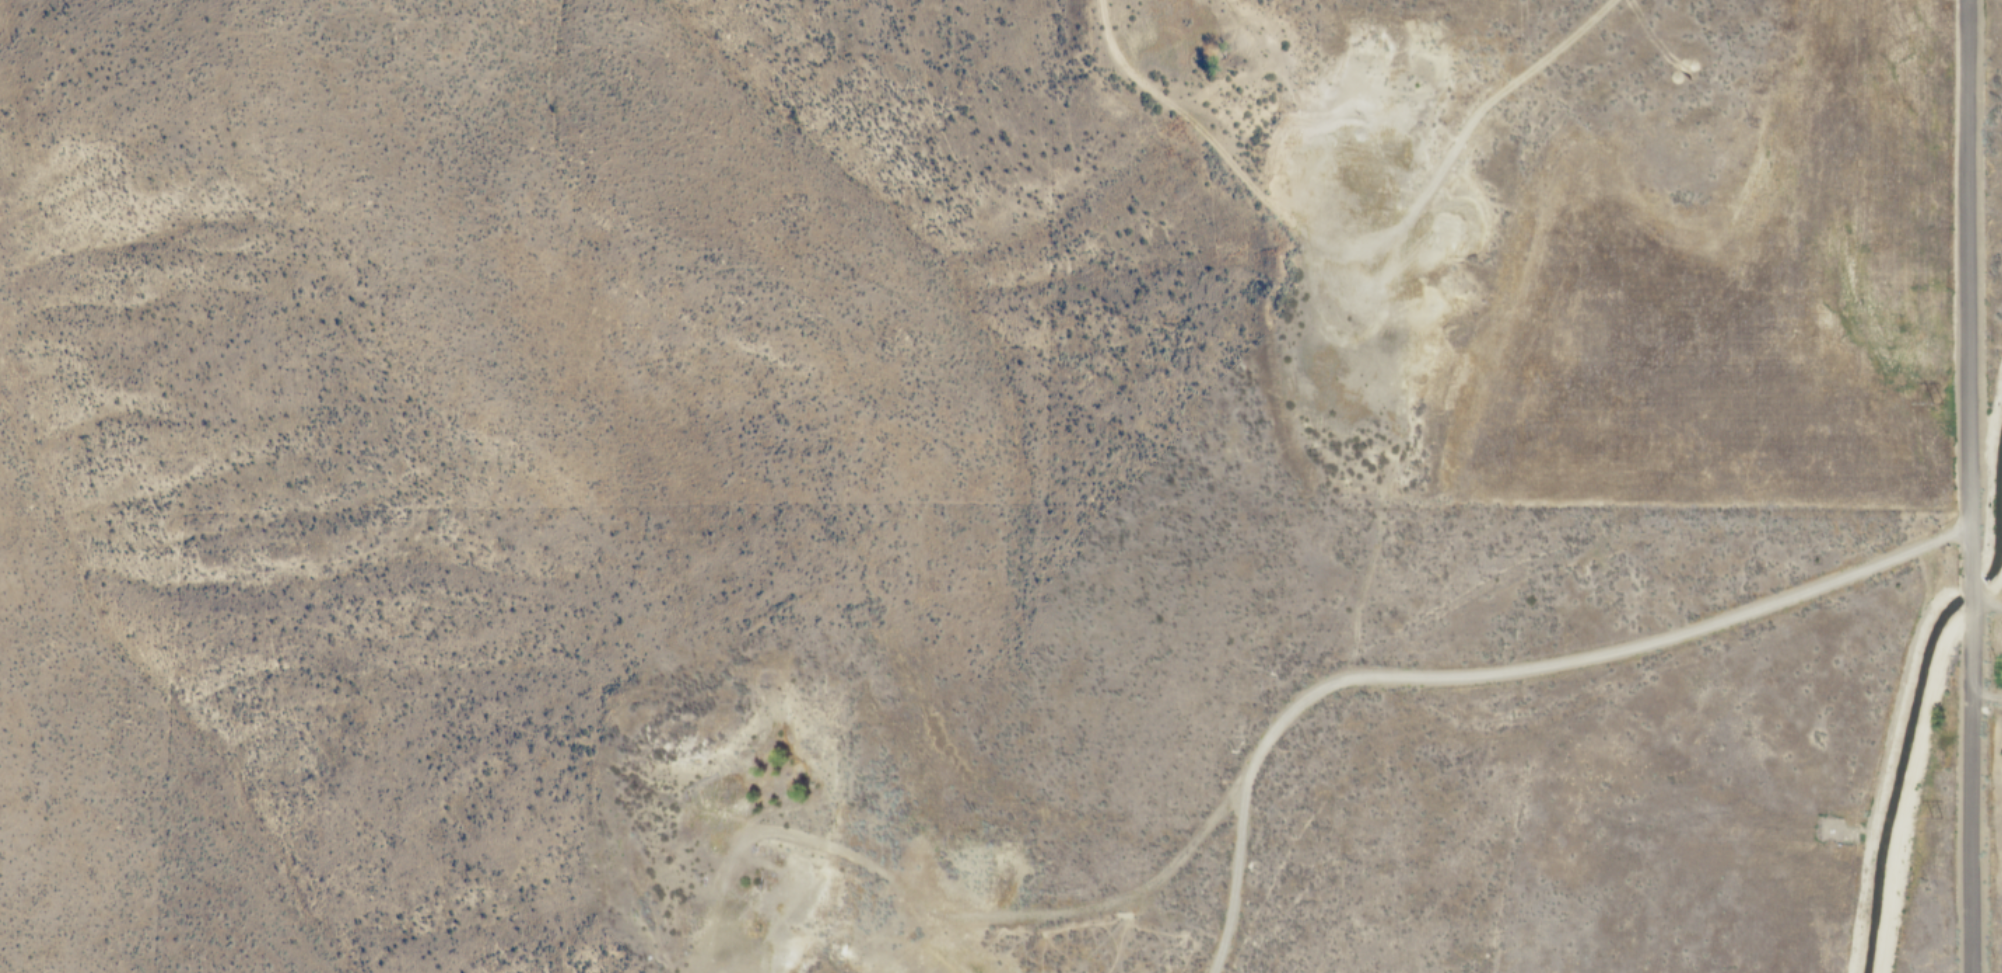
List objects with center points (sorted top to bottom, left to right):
power tower: (1933, 407)
road: (1970, 486)
road: (1986, 603)
road: (1499, 672)
road: (1987, 702)
power tower: (1936, 816)

